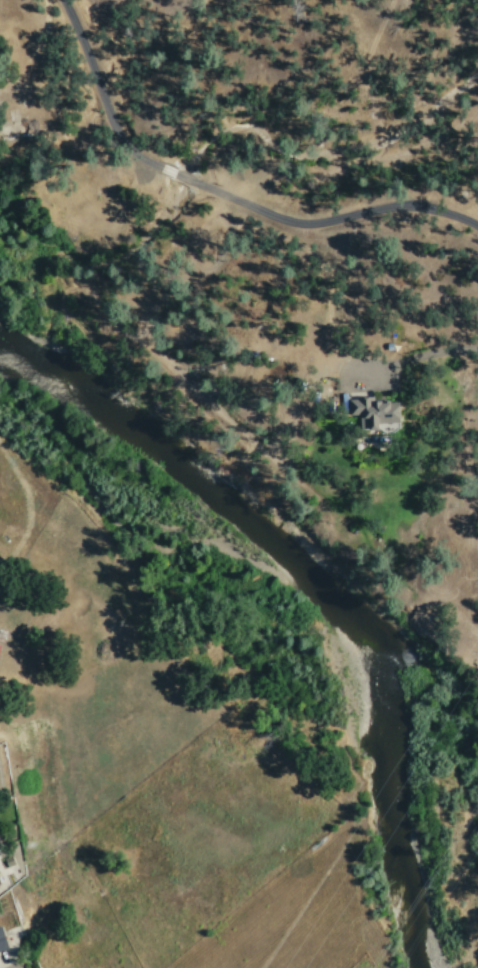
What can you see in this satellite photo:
road: (218, 194)
river: (59, 386)
building: (375, 414)
river: (381, 636)
building: (0, 881)
building: (2, 942)

